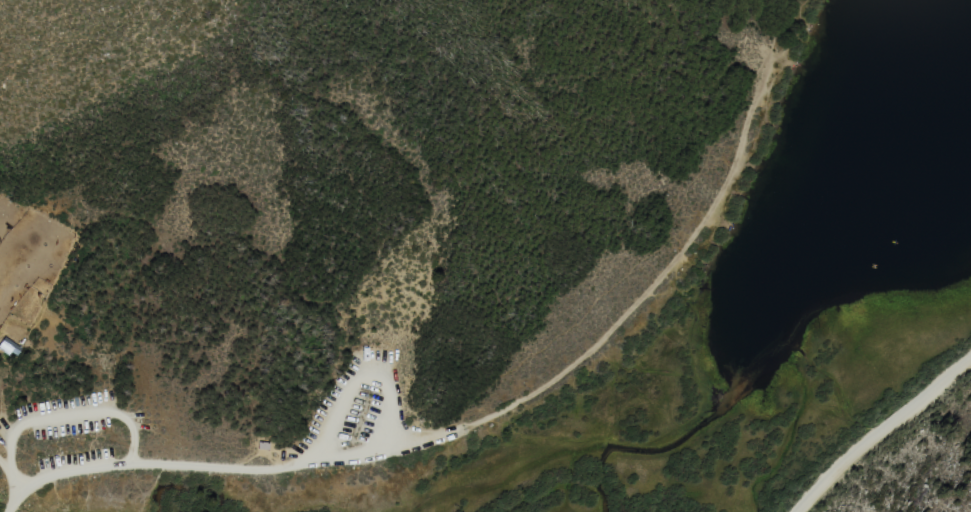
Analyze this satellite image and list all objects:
road: (782, 33)
road: (630, 271)
road: (627, 313)
building: (7, 346)
road: (356, 387)
road: (63, 415)
parking lot: (353, 415)
parking lot: (64, 416)
road: (882, 432)
building: (262, 445)
parking lot: (71, 458)
road: (5, 467)
road: (188, 468)

